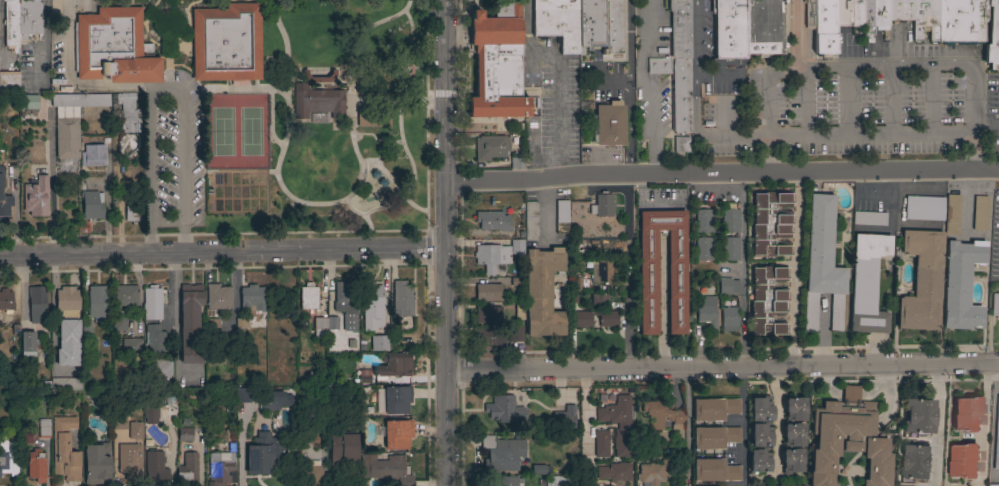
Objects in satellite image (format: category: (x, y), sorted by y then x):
road: (406, 5)
building: (899, 10)
building: (842, 12)
building: (856, 13)
building: (809, 14)
building: (880, 16)
building: (867, 17)
building: (28, 18)
building: (925, 19)
building: (961, 21)
building: (557, 22)
building: (11, 25)
road: (160, 27)
building: (763, 27)
building: (824, 27)
building: (679, 28)
building: (598, 31)
building: (728, 32)
road: (794, 33)
building: (992, 35)
road: (628, 38)
road: (166, 41)
building: (226, 43)
building: (113, 47)
road: (398, 54)
road: (350, 55)
road: (285, 63)
building: (496, 64)
road: (868, 65)
building: (658, 66)
road: (698, 67)
building: (318, 77)
building: (9, 82)
road: (550, 84)
road: (66, 85)
road: (642, 85)
road: (234, 89)
road: (166, 92)
building: (680, 95)
building: (80, 100)
building: (30, 101)
building: (318, 103)
building: (126, 114)
road: (987, 120)
building: (608, 124)
park: (325, 125)
road: (627, 125)
building: (489, 127)
park: (220, 132)
park: (248, 132)
road: (837, 132)
building: (66, 138)
road: (375, 141)
building: (680, 144)
building: (491, 147)
road: (404, 150)
building: (93, 156)
building: (516, 160)
road: (723, 173)
road: (51, 183)
building: (36, 194)
building: (4, 197)
road: (292, 201)
building: (91, 205)
building: (602, 205)
building: (924, 208)
road: (373, 211)
building: (133, 213)
building: (980, 213)
building: (951, 214)
road: (285, 217)
building: (561, 217)
building: (868, 219)
building: (530, 220)
building: (729, 220)
building: (493, 221)
building: (703, 221)
road: (367, 223)
building: (771, 224)
road: (447, 242)
building: (517, 248)
building: (729, 248)
building: (703, 249)
road: (223, 253)
building: (491, 256)
road: (741, 259)
building: (822, 264)
building: (604, 271)
road: (793, 271)
road: (627, 281)
building: (921, 282)
building: (866, 283)
building: (575, 284)
building: (648, 284)
building: (961, 284)
building: (728, 286)
building: (488, 292)
building: (543, 292)
building: (124, 295)
building: (217, 297)
building: (256, 297)
building: (308, 297)
building: (402, 298)
building: (599, 298)
building: (5, 300)
building: (97, 301)
building: (768, 301)
building: (67, 302)
building: (152, 303)
building: (36, 304)
building: (346, 304)
road: (662, 304)
building: (372, 306)
building: (995, 306)
building: (519, 309)
building: (706, 310)
building: (488, 314)
building: (608, 318)
building: (582, 319)
building: (728, 319)
building: (119, 321)
building: (241, 323)
building: (190, 324)
building: (324, 325)
building: (212, 327)
building: (516, 333)
road: (824, 333)
building: (490, 336)
building: (154, 340)
building: (68, 343)
building: (378, 343)
building: (27, 344)
building: (131, 349)
building: (218, 360)
building: (394, 365)
building: (156, 368)
road: (723, 369)
building: (364, 376)
building: (62, 384)
building: (246, 394)
building: (145, 399)
building: (396, 399)
building: (268, 402)
building: (158, 405)
building: (504, 409)
building: (714, 409)
building: (760, 409)
building: (967, 414)
building: (148, 415)
building: (661, 415)
building: (919, 416)
building: (564, 417)
building: (119, 423)
road: (986, 424)
building: (619, 425)
road: (936, 425)
road: (742, 427)
building: (44, 428)
road: (585, 428)
road: (686, 428)
building: (135, 430)
building: (185, 434)
building: (397, 434)
building: (760, 434)
building: (792, 435)
building: (714, 437)
building: (847, 439)
building: (997, 441)
building: (601, 443)
building: (64, 450)
building: (343, 452)
building: (502, 453)
building: (264, 454)
building: (6, 458)
building: (759, 460)
building: (964, 461)
building: (129, 462)
building: (916, 463)
building: (96, 464)
building: (36, 466)
building: (220, 469)
building: (540, 469)
building: (154, 470)
building: (385, 470)
building: (714, 470)
building: (187, 471)
building: (656, 472)
building: (310, 473)
building: (615, 473)
building: (509, 481)
building: (556, 481)
building: (993, 485)

